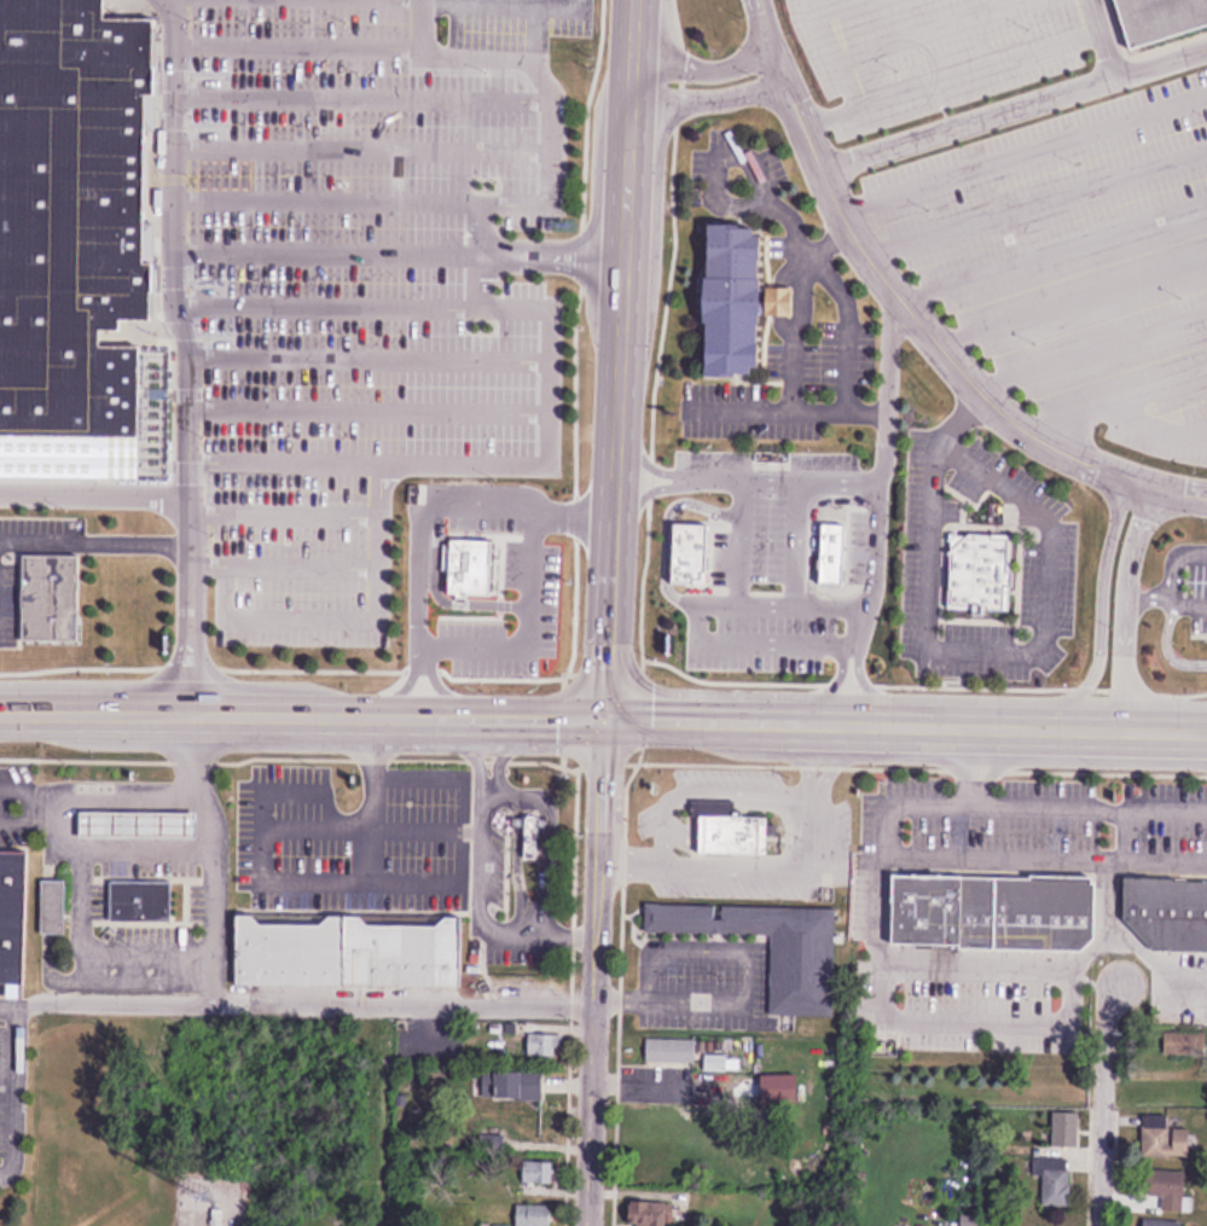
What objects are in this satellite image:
building: (1165, 18)
road: (1097, 39)
road: (179, 47)
road: (303, 47)
road: (524, 59)
road: (704, 70)
road: (179, 98)
road: (361, 99)
road: (545, 101)
road: (708, 101)
road: (1011, 106)
road: (179, 150)
road: (361, 150)
road: (544, 151)
road: (178, 202)
road: (364, 203)
building: (75, 214)
road: (396, 255)
parking lot: (358, 285)
building: (731, 297)
road: (179, 307)
road: (913, 316)
road: (186, 354)
road: (620, 359)
road: (193, 361)
road: (373, 361)
road: (546, 378)
road: (195, 413)
road: (373, 414)
road: (196, 463)
road: (744, 473)
road: (94, 494)
road: (871, 505)
road: (197, 515)
road: (292, 516)
building: (462, 516)
building: (824, 548)
building: (683, 550)
building: (747, 554)
building: (463, 562)
road: (198, 566)
road: (291, 566)
building: (973, 568)
building: (45, 592)
road: (1124, 610)
road: (1099, 615)
road: (350, 621)
building: (436, 621)
building: (532, 629)
road: (303, 716)
road: (907, 726)
road: (973, 766)
road: (486, 791)
road: (147, 797)
road: (23, 803)
road: (971, 803)
building: (143, 824)
road: (265, 826)
building: (528, 827)
road: (463, 831)
road: (1124, 832)
building: (721, 833)
road: (145, 852)
road: (1051, 855)
road: (1156, 858)
road: (211, 894)
building: (144, 901)
building: (56, 907)
building: (1165, 907)
building: (990, 908)
building: (14, 916)
road: (570, 929)
road: (539, 931)
road: (81, 937)
building: (771, 947)
building: (348, 949)
road: (739, 953)
road: (1153, 963)
road: (597, 972)
road: (132, 981)
road: (7, 1000)
road: (304, 1001)
road: (620, 1003)
road: (1067, 1013)
building: (545, 1045)
building: (671, 1051)
building: (513, 1085)
road: (11, 1087)
road: (1103, 1104)
building: (1067, 1129)
building: (1166, 1139)
building: (538, 1172)
building: (1055, 1180)
building: (1172, 1190)
building: (534, 1214)
building: (649, 1214)
building: (216, 1220)
building: (1162, 1224)

